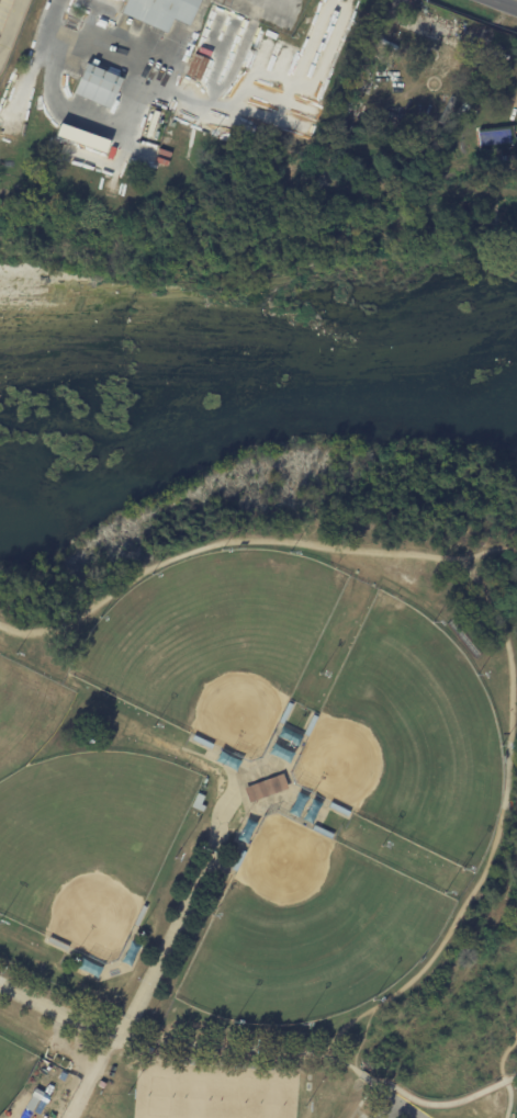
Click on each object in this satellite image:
road: (278, 3)
building: (159, 12)
road: (195, 14)
road: (10, 25)
building: (476, 57)
building: (195, 69)
building: (101, 79)
road: (56, 104)
building: (81, 137)
river: (250, 406)
road: (487, 547)
road: (345, 551)
park: (215, 643)
park: (26, 714)
building: (284, 714)
building: (310, 726)
park: (408, 737)
building: (201, 743)
building: (265, 789)
park: (268, 789)
building: (198, 803)
road: (510, 805)
building: (338, 811)
building: (322, 833)
park: (87, 845)
building: (237, 860)
building: (138, 916)
park: (308, 930)
building: (57, 946)
road: (151, 976)
road: (318, 1057)
road: (504, 1058)
park: (12, 1069)
road: (512, 1077)
road: (90, 1080)
park: (213, 1092)
building: (35, 1094)
road: (509, 1098)
road: (394, 1105)
parking lot: (384, 1107)

